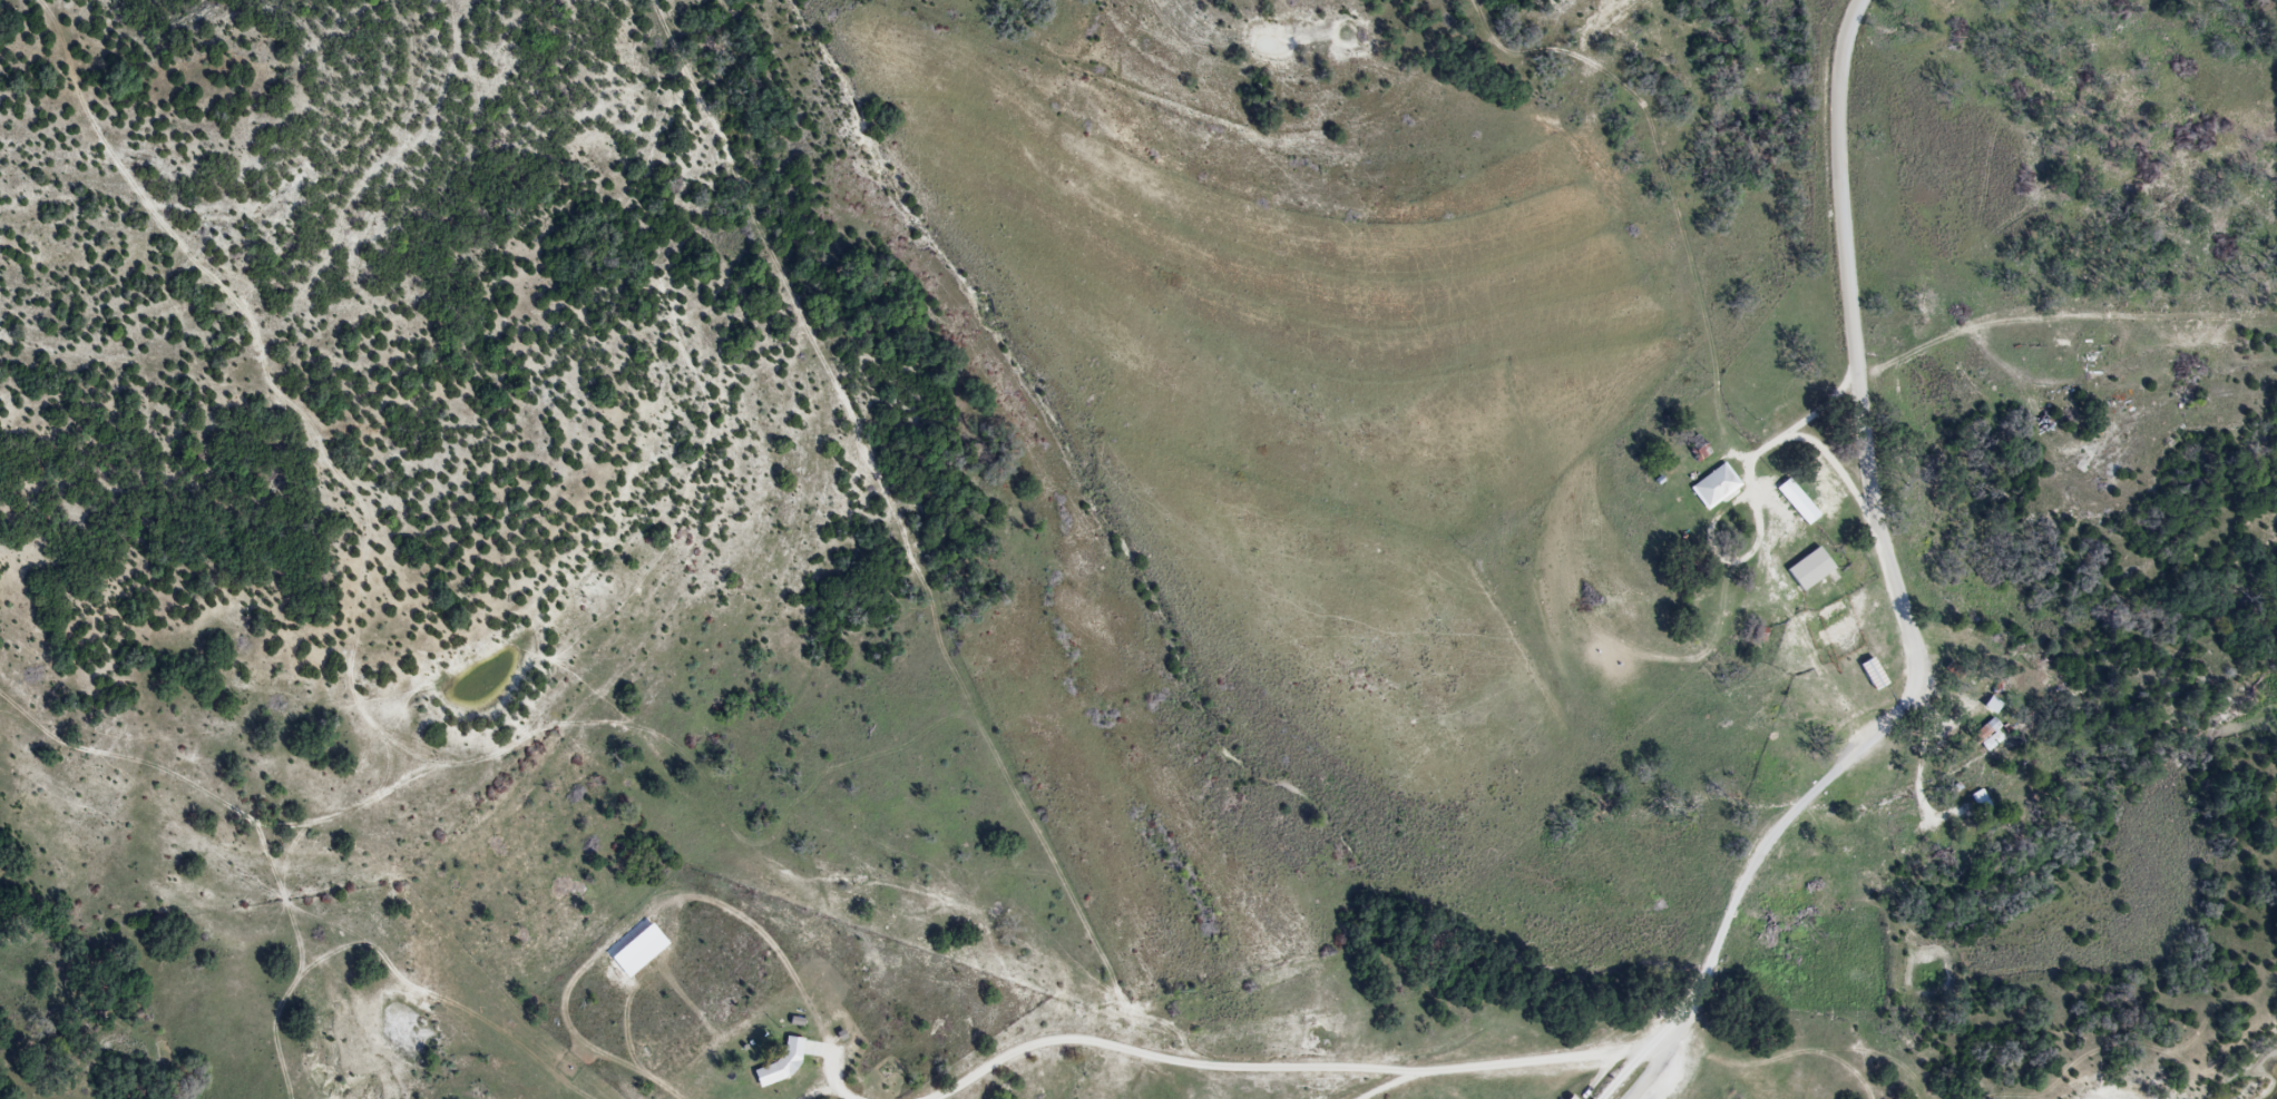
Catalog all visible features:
road: (1849, 13)
road: (1753, 470)
building: (1710, 488)
building: (1806, 571)
building: (1831, 624)
building: (1866, 670)
building: (1973, 798)
road: (1717, 943)
road: (1653, 1061)
road: (1623, 1069)

